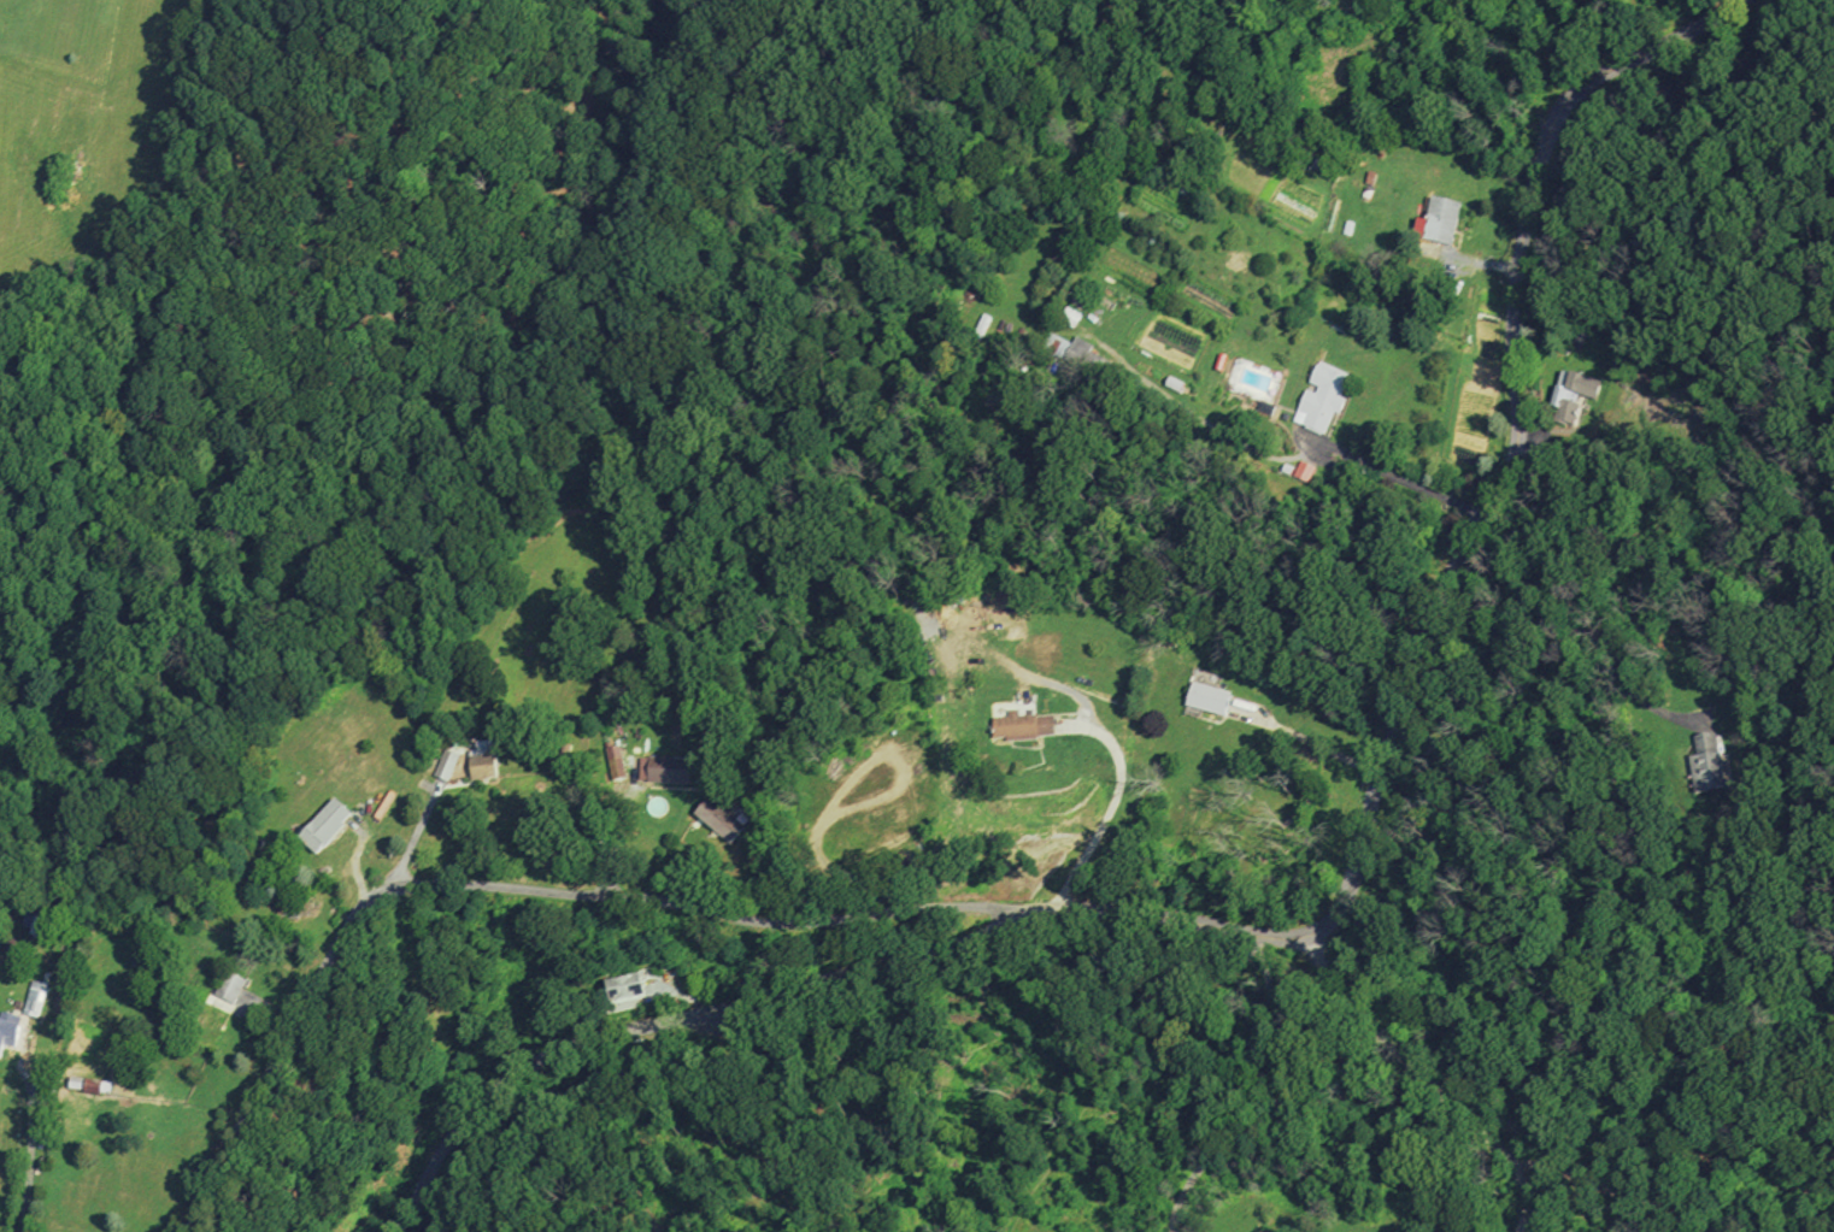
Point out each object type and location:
building: (1441, 218)
building: (1080, 302)
building: (1069, 317)
building: (1078, 355)
building: (1175, 384)
building: (1322, 400)
building: (1563, 400)
building: (1265, 406)
road: (1393, 481)
building: (918, 590)
road: (1586, 630)
building: (1209, 697)
building: (1023, 726)
road: (1306, 741)
building: (482, 760)
building: (615, 762)
building: (1704, 762)
building: (445, 765)
building: (664, 770)
road: (1111, 808)
building: (719, 820)
building: (318, 825)
road: (615, 825)
road: (413, 838)
road: (837, 873)
road: (519, 889)
road: (1335, 915)
building: (25, 924)
building: (623, 989)
building: (227, 992)
road: (687, 995)
building: (34, 998)
road: (270, 1010)
building: (7, 1031)
road: (1427, 1077)
building: (89, 1085)
road: (1281, 1098)
road: (31, 1144)
road: (1609, 1187)

